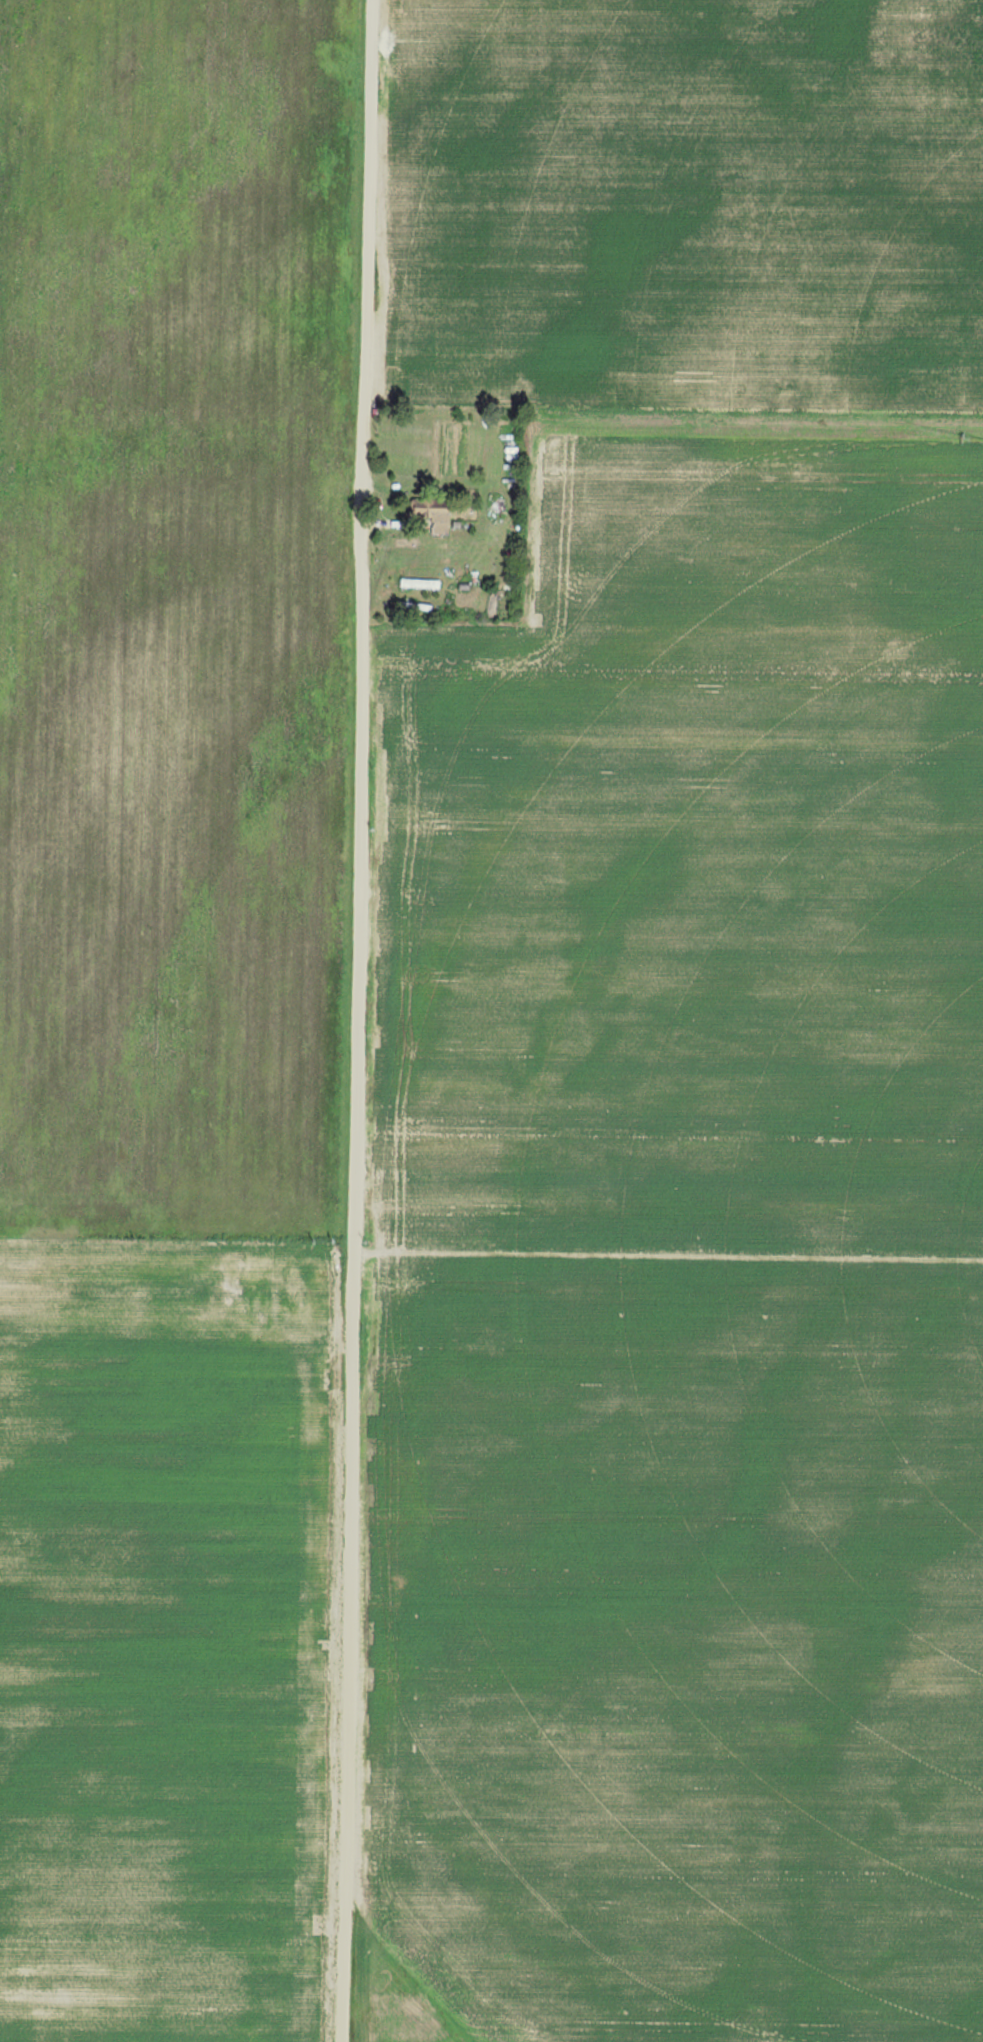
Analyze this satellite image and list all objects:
building: (437, 511)
road: (358, 1020)

